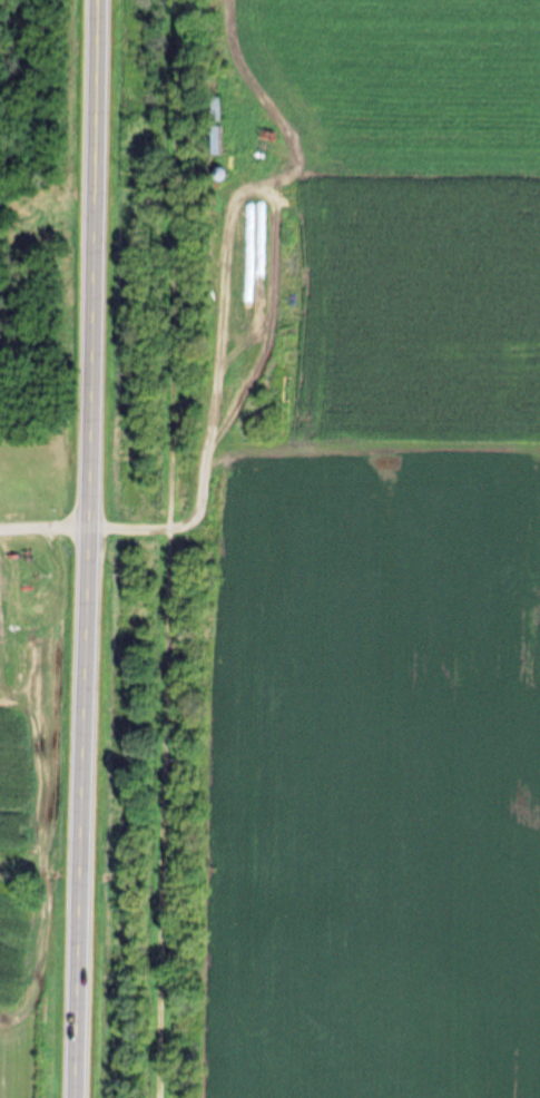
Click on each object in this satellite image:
building: (253, 264)
road: (168, 548)
road: (88, 549)
building: (1, 596)

